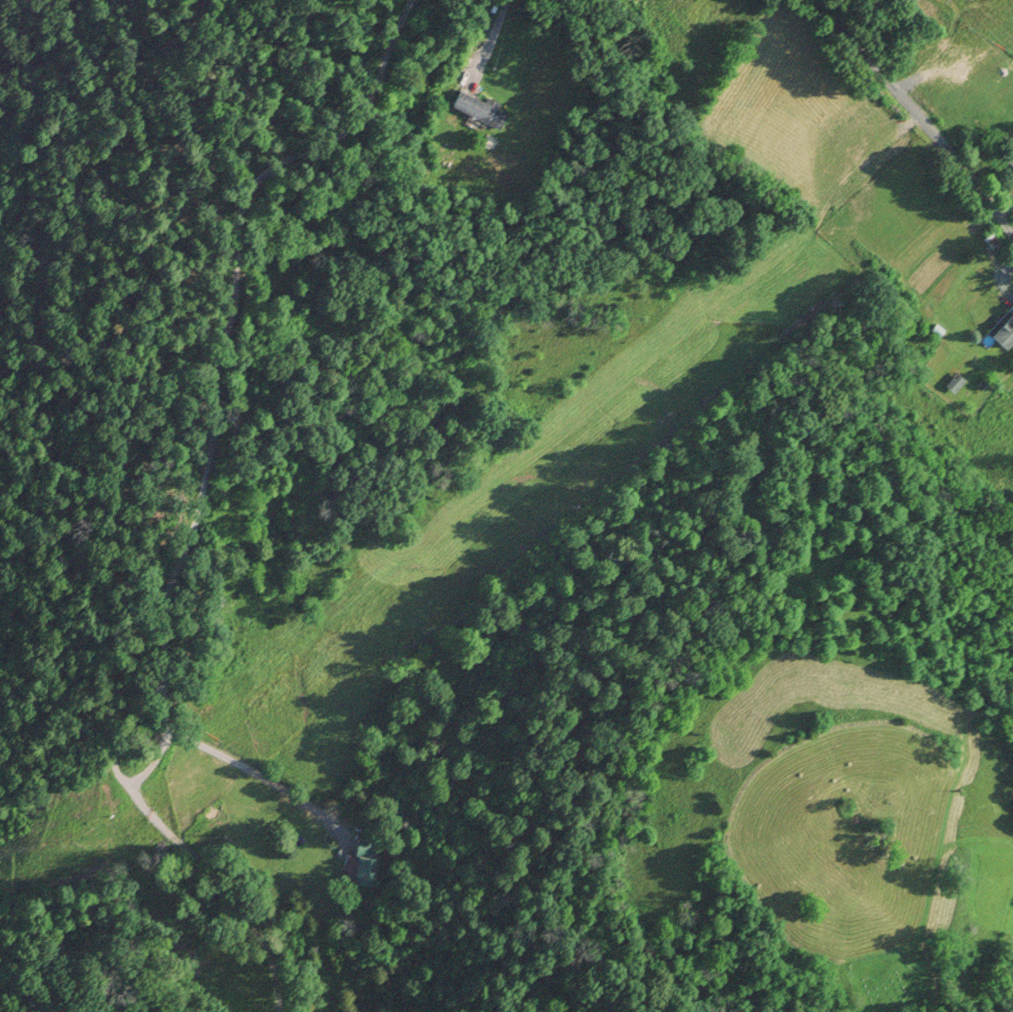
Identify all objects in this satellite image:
building: (479, 108)
road: (920, 118)
building: (1010, 159)
building: (991, 241)
building: (937, 331)
building: (1001, 331)
building: (955, 384)
building: (983, 386)
building: (367, 862)

